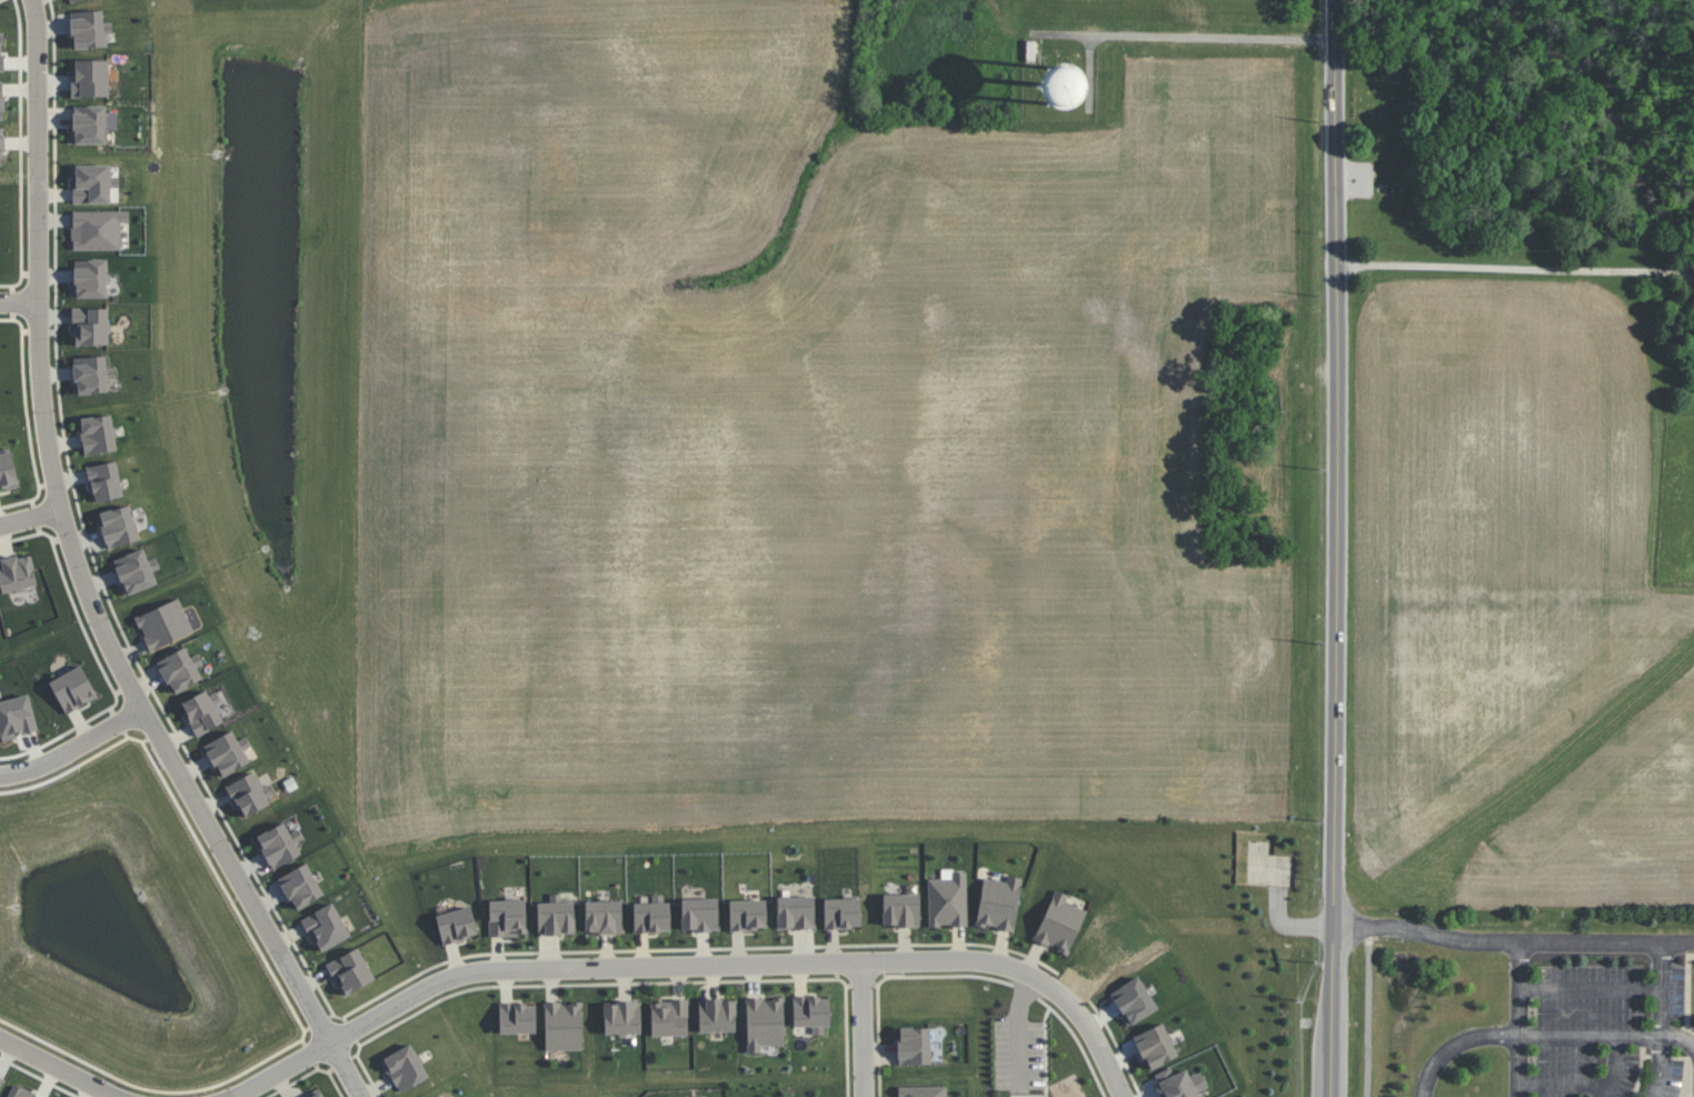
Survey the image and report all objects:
building: (71, 0)
building: (89, 29)
road: (1193, 36)
building: (1, 52)
building: (90, 78)
building: (1059, 87)
building: (1, 100)
water tower: (1052, 102)
building: (89, 124)
building: (1, 146)
building: (93, 183)
building: (98, 229)
road: (1516, 268)
building: (90, 278)
road: (14, 300)
building: (90, 326)
building: (92, 375)
building: (98, 433)
building: (8, 471)
building: (104, 481)
road: (28, 515)
building: (118, 526)
road: (1335, 548)
building: (136, 571)
building: (17, 574)
road: (84, 580)
building: (163, 624)
building: (180, 669)
building: (73, 689)
building: (202, 711)
building: (17, 717)
road: (71, 749)
building: (228, 752)
building: (250, 794)
building: (278, 846)
building: (300, 886)
building: (947, 900)
building: (998, 902)
building: (900, 909)
building: (795, 912)
building: (841, 912)
building: (747, 914)
building: (699, 915)
building: (556, 916)
building: (507, 917)
building: (602, 917)
building: (651, 917)
building: (1059, 923)
building: (456, 925)
building: (326, 927)
road: (1513, 943)
road: (691, 964)
building: (350, 971)
road: (1593, 989)
building: (811, 1014)
building: (717, 1015)
building: (517, 1018)
building: (622, 1018)
building: (669, 1018)
road: (1369, 1018)
road: (1521, 1019)
road: (1664, 1019)
building: (765, 1023)
building: (564, 1026)
road: (859, 1028)
road: (1529, 1035)
road: (1678, 1037)
building: (914, 1045)
building: (1155, 1046)
road: (1618, 1067)
building: (405, 1068)
road: (59, 1069)
building: (1, 1080)
building: (1178, 1084)
building: (923, 1091)
building: (20, 1093)
building: (317, 1095)

